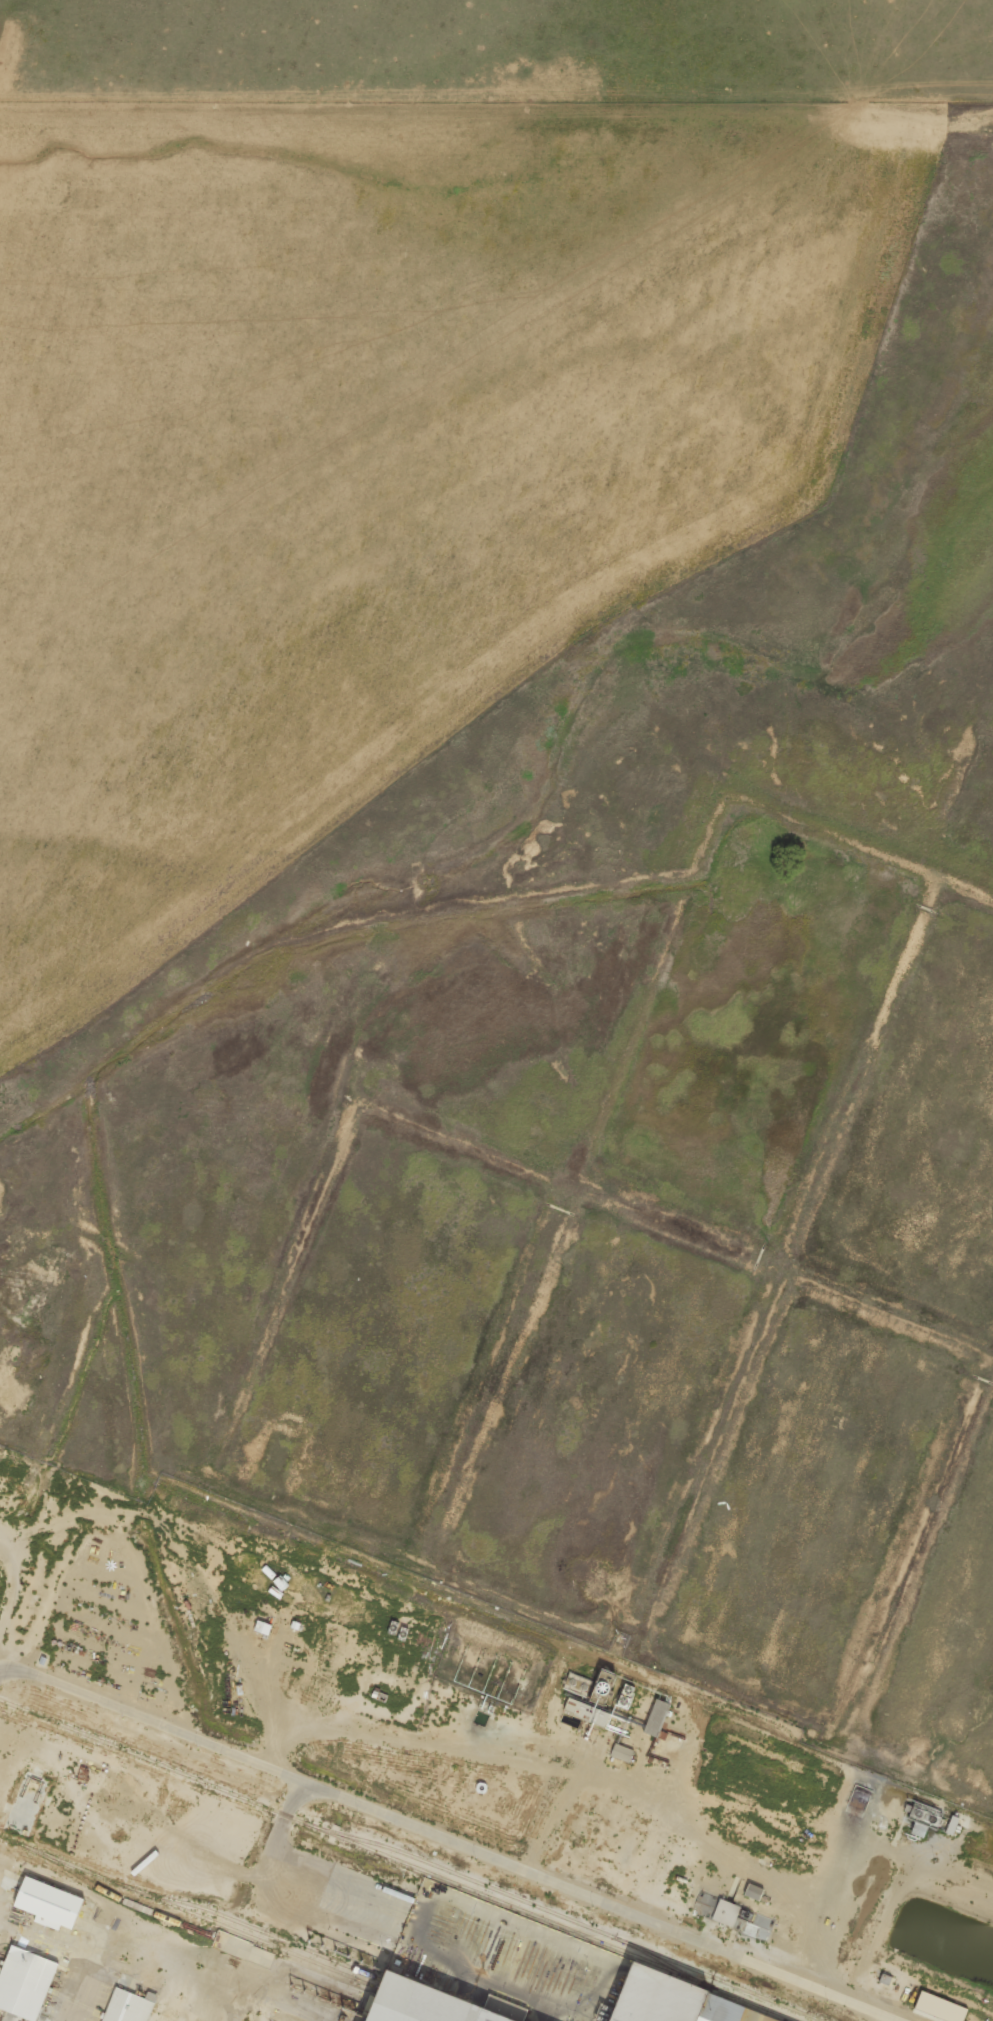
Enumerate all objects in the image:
building: (588, 1711)
building: (622, 1752)
railway: (397, 1861)
building: (754, 1891)
railway: (123, 1899)
building: (49, 1903)
railway: (185, 1911)
railway: (564, 1917)
building: (727, 1919)
railway: (247, 1925)
railway: (660, 1961)
building: (25, 1982)
building: (672, 2003)
building: (426, 2004)
building: (127, 2007)
building: (941, 2007)

